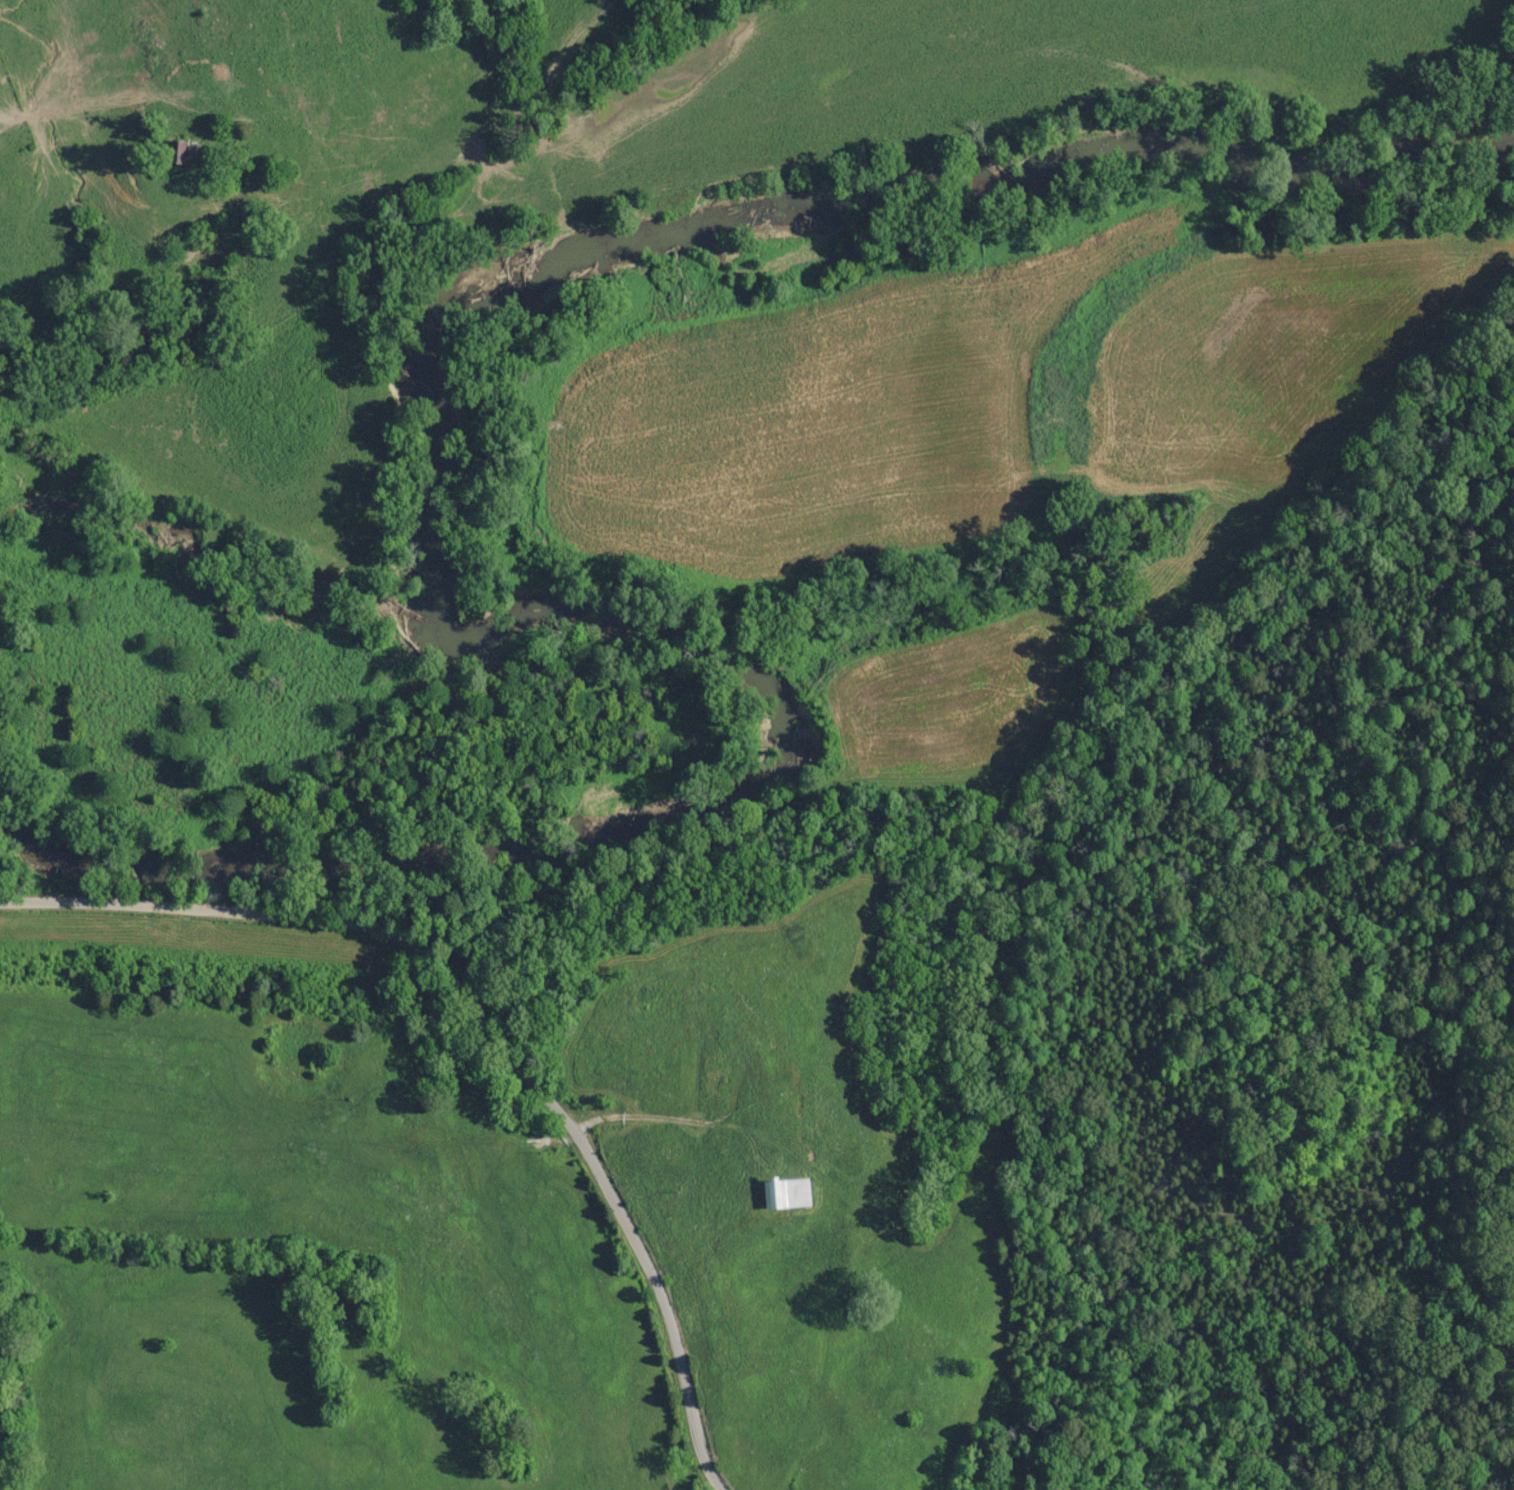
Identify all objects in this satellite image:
building: (175, 151)
road: (493, 1021)
building: (715, 1078)
building: (783, 1193)

